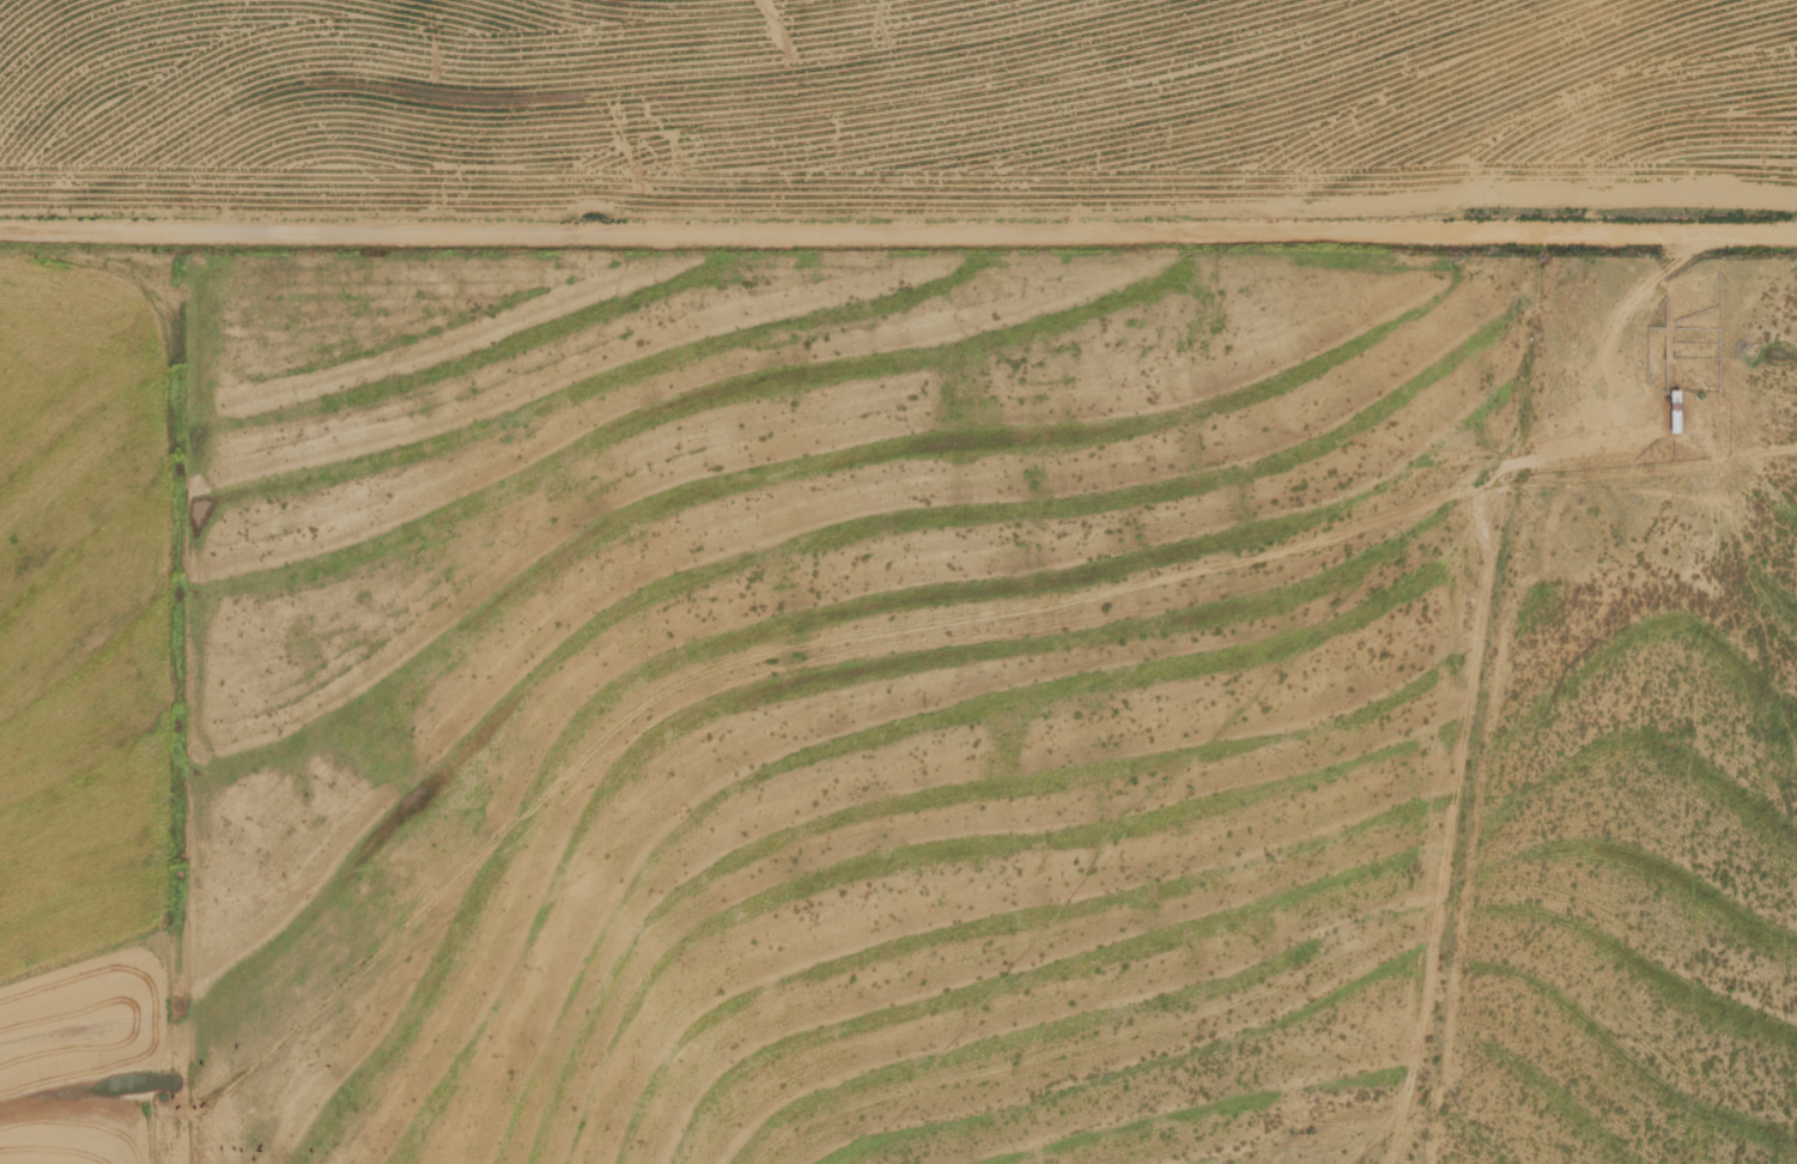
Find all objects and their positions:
road: (898, 235)

